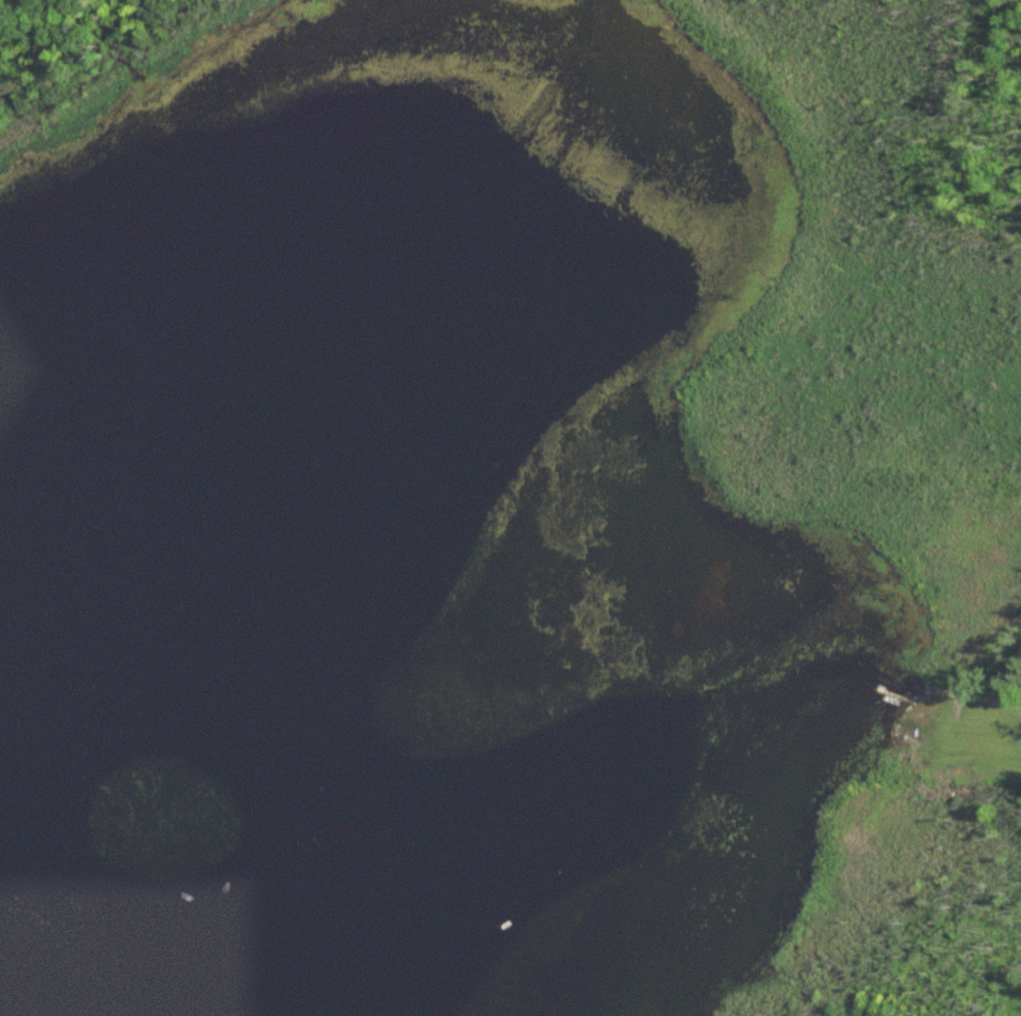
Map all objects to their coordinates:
road: (971, 695)
road: (955, 705)

